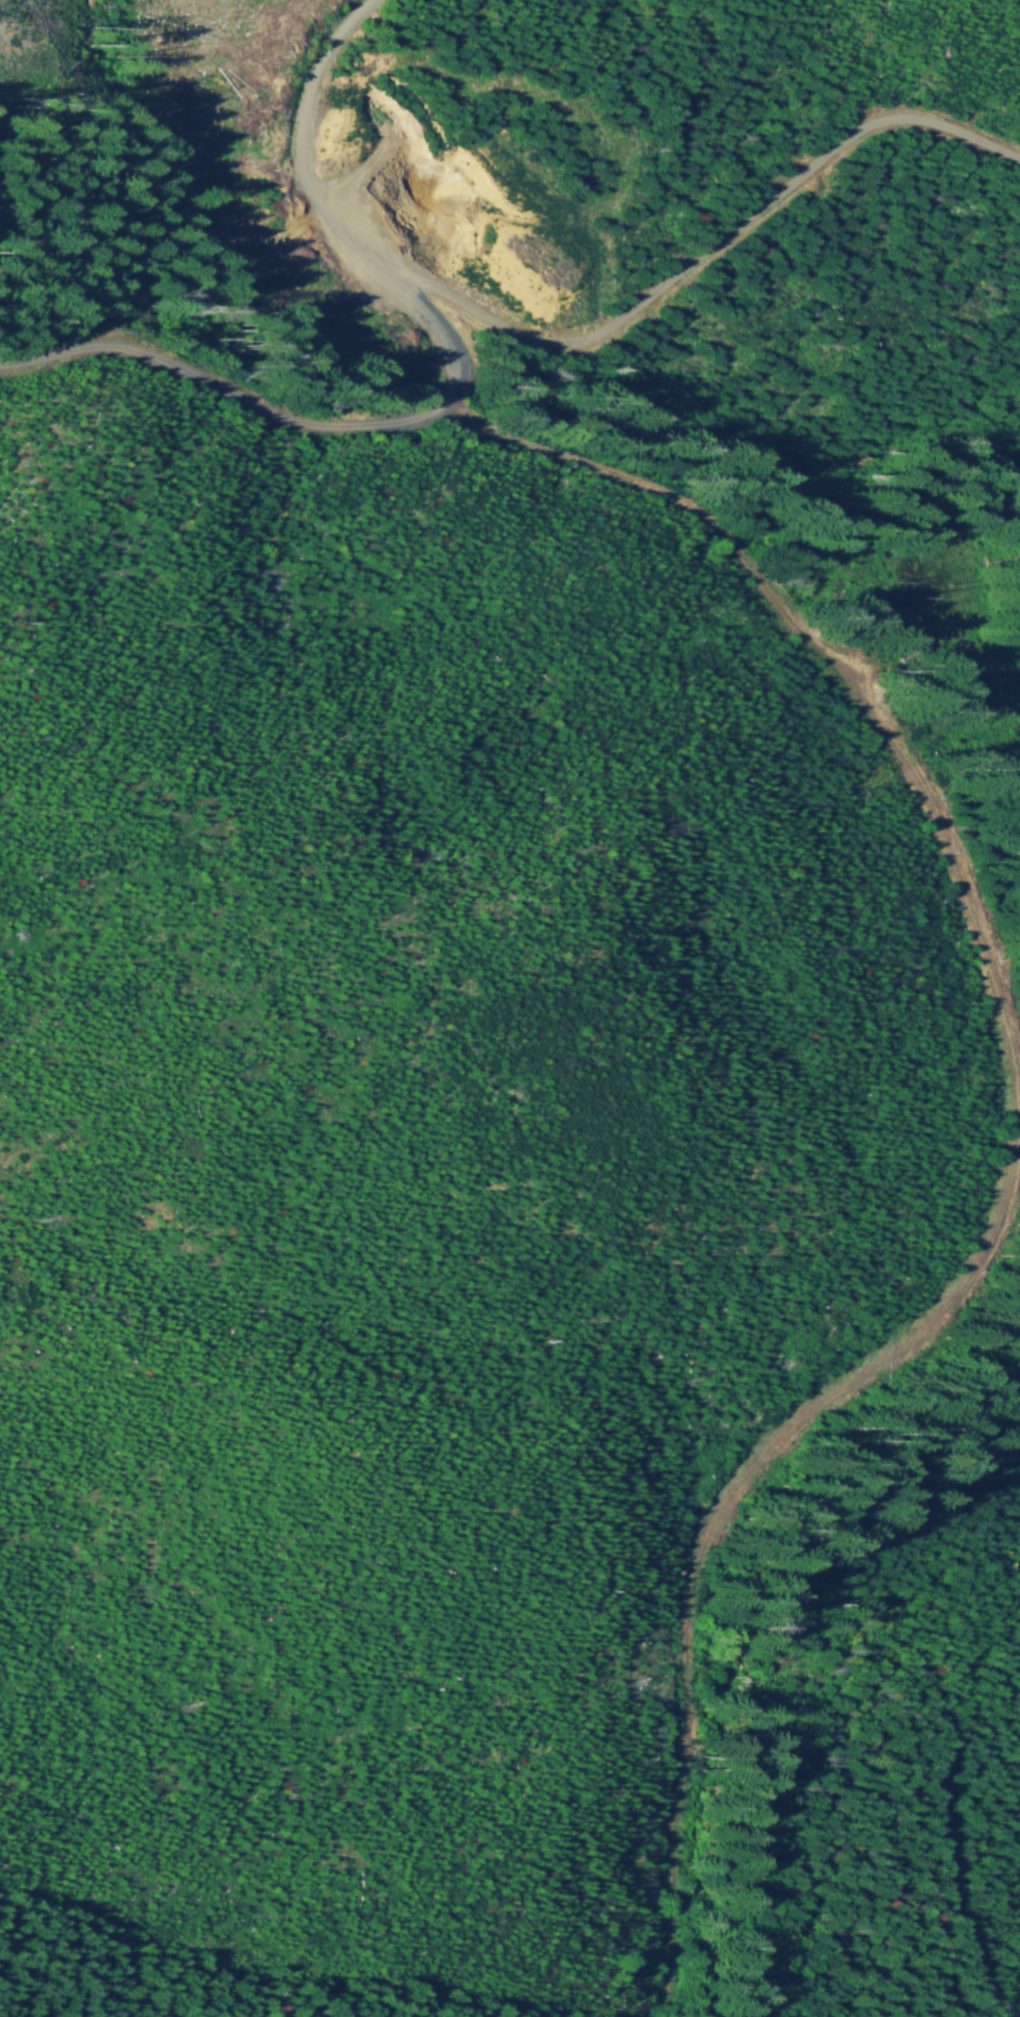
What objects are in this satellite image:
quarry: (448, 204)
road: (705, 243)
road: (440, 390)
road: (1010, 1127)
road: (955, 1901)

